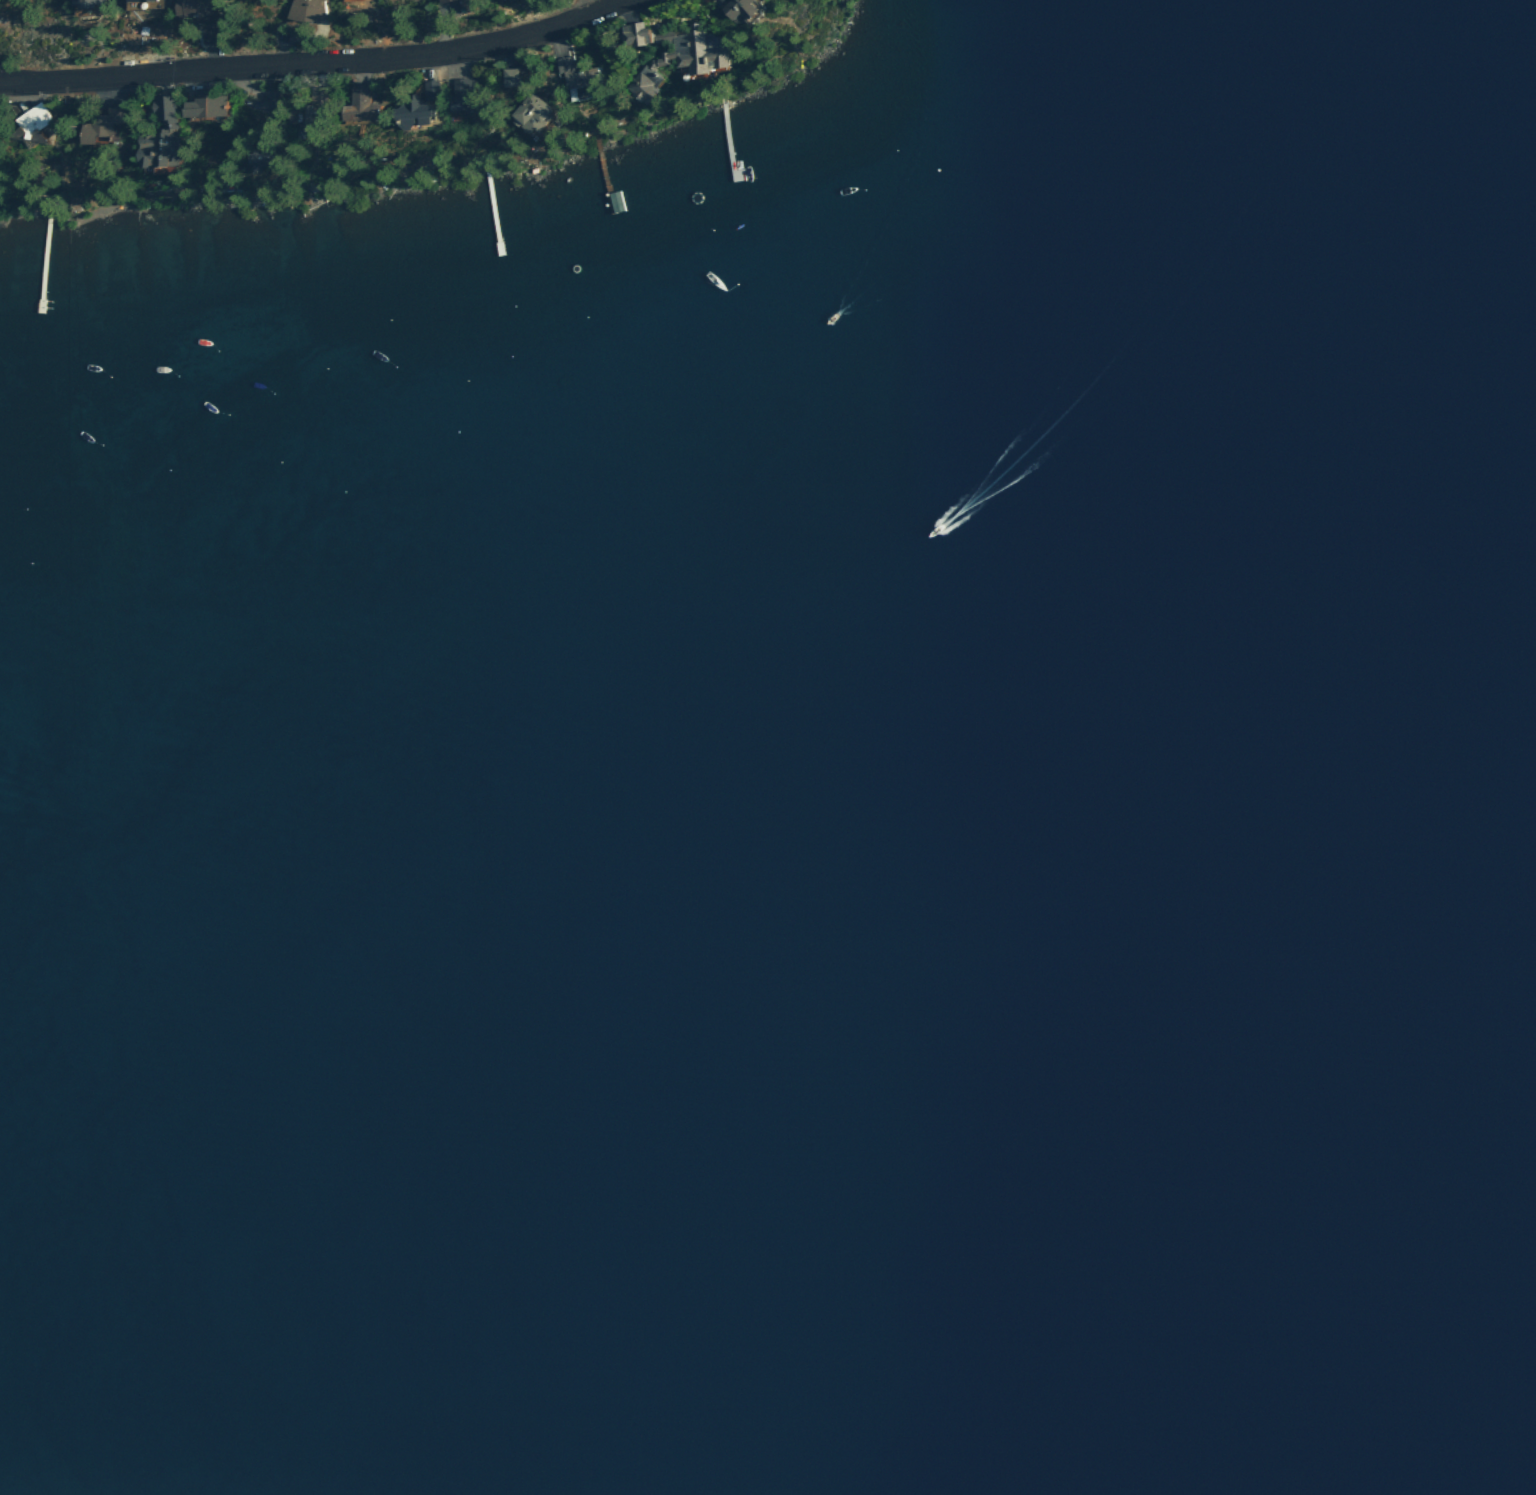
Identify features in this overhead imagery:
building: (510, 0)
building: (151, 1)
building: (95, 4)
road: (608, 4)
building: (201, 7)
building: (734, 9)
building: (307, 10)
building: (189, 23)
building: (669, 55)
road: (319, 60)
building: (460, 97)
building: (213, 105)
building: (369, 106)
building: (417, 114)
building: (532, 114)
building: (108, 125)
building: (164, 138)
pier: (724, 140)
building: (267, 157)
pier: (604, 172)
pier: (487, 209)
pier: (39, 263)

